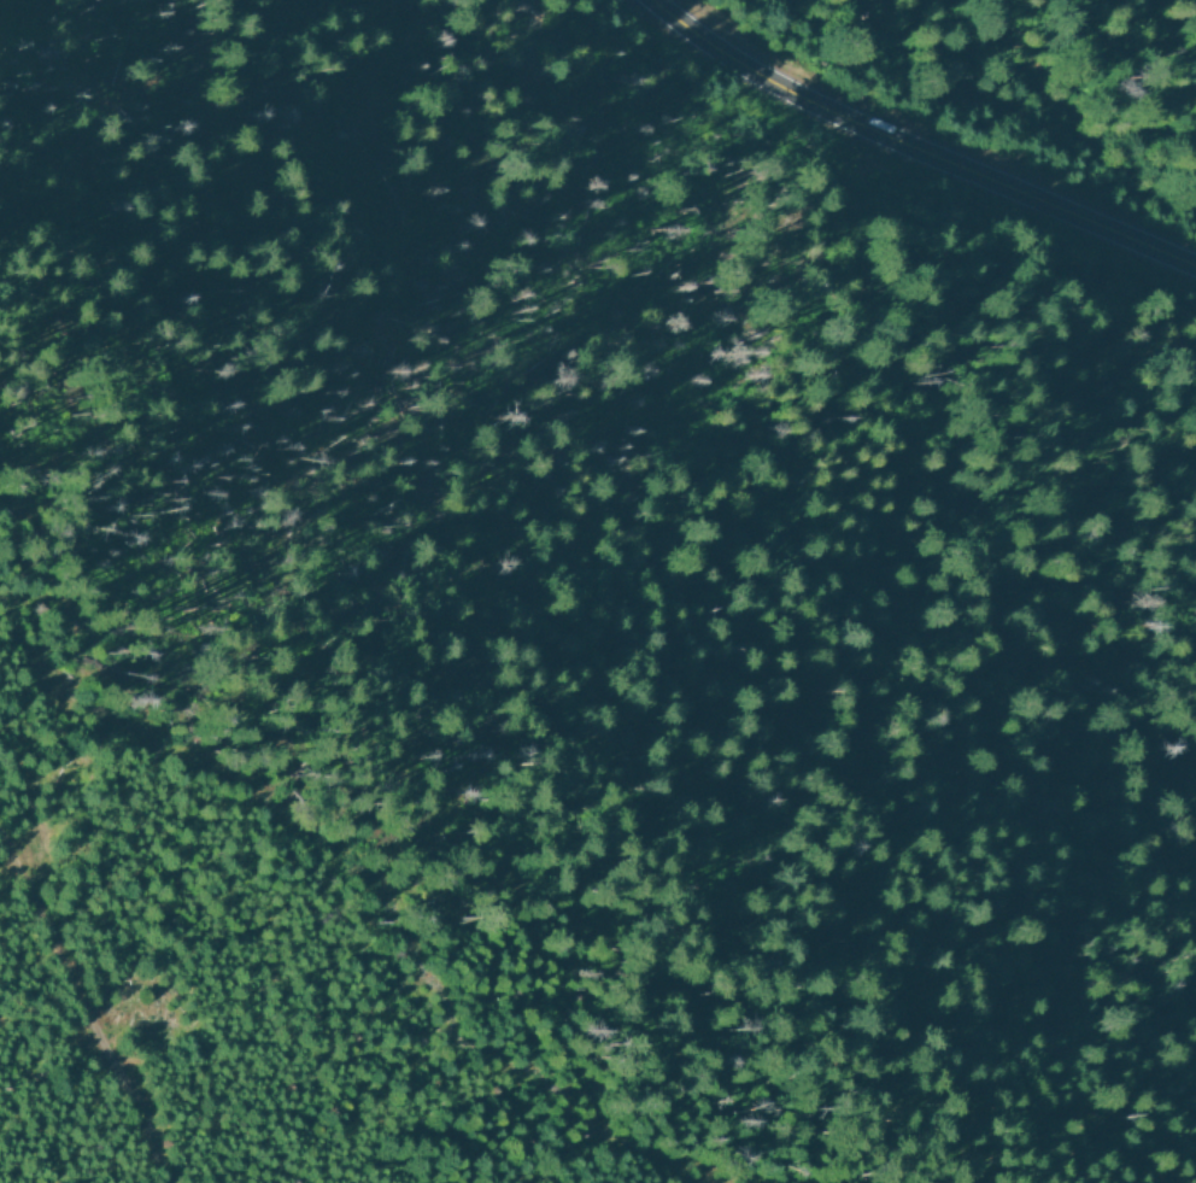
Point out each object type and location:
road: (903, 153)

